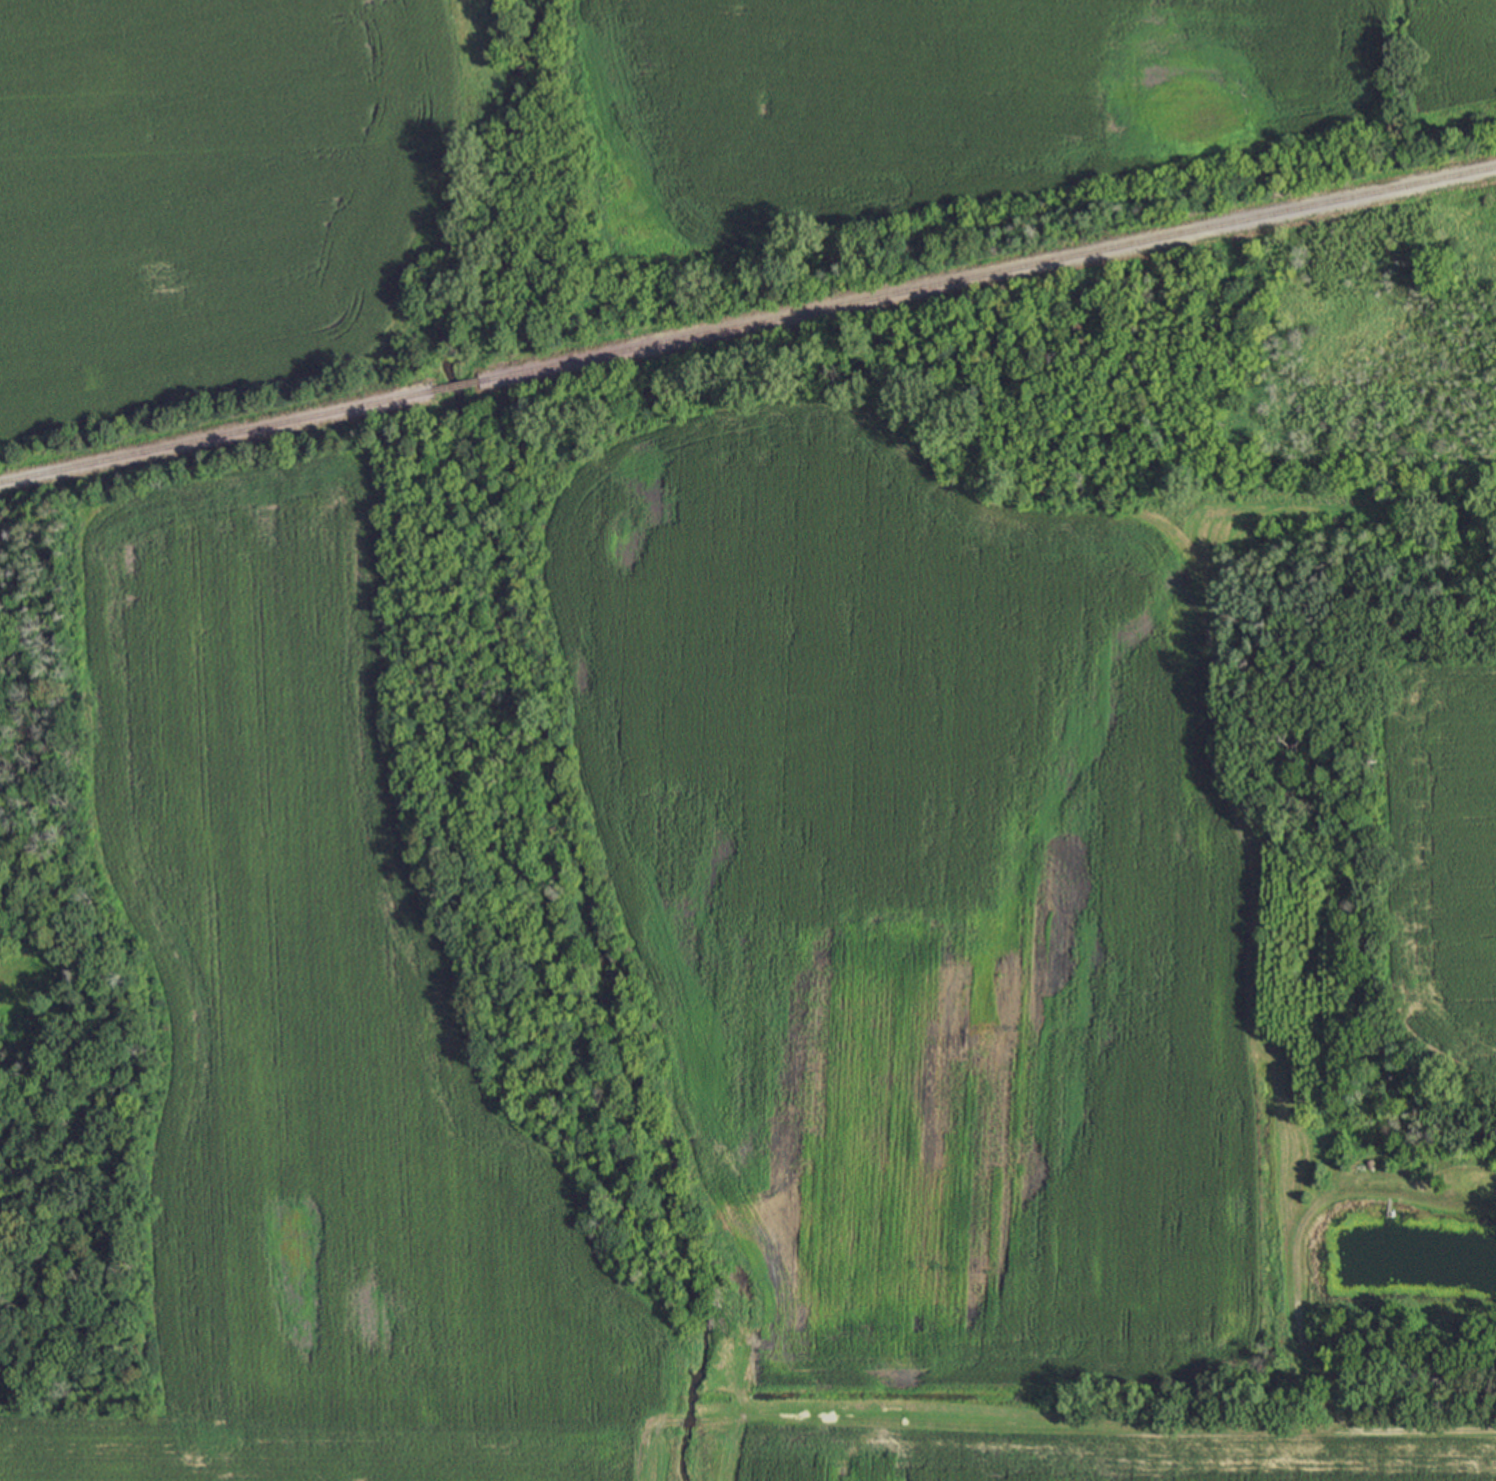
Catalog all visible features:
railway: (987, 272)
railway: (454, 385)
railway: (215, 435)

